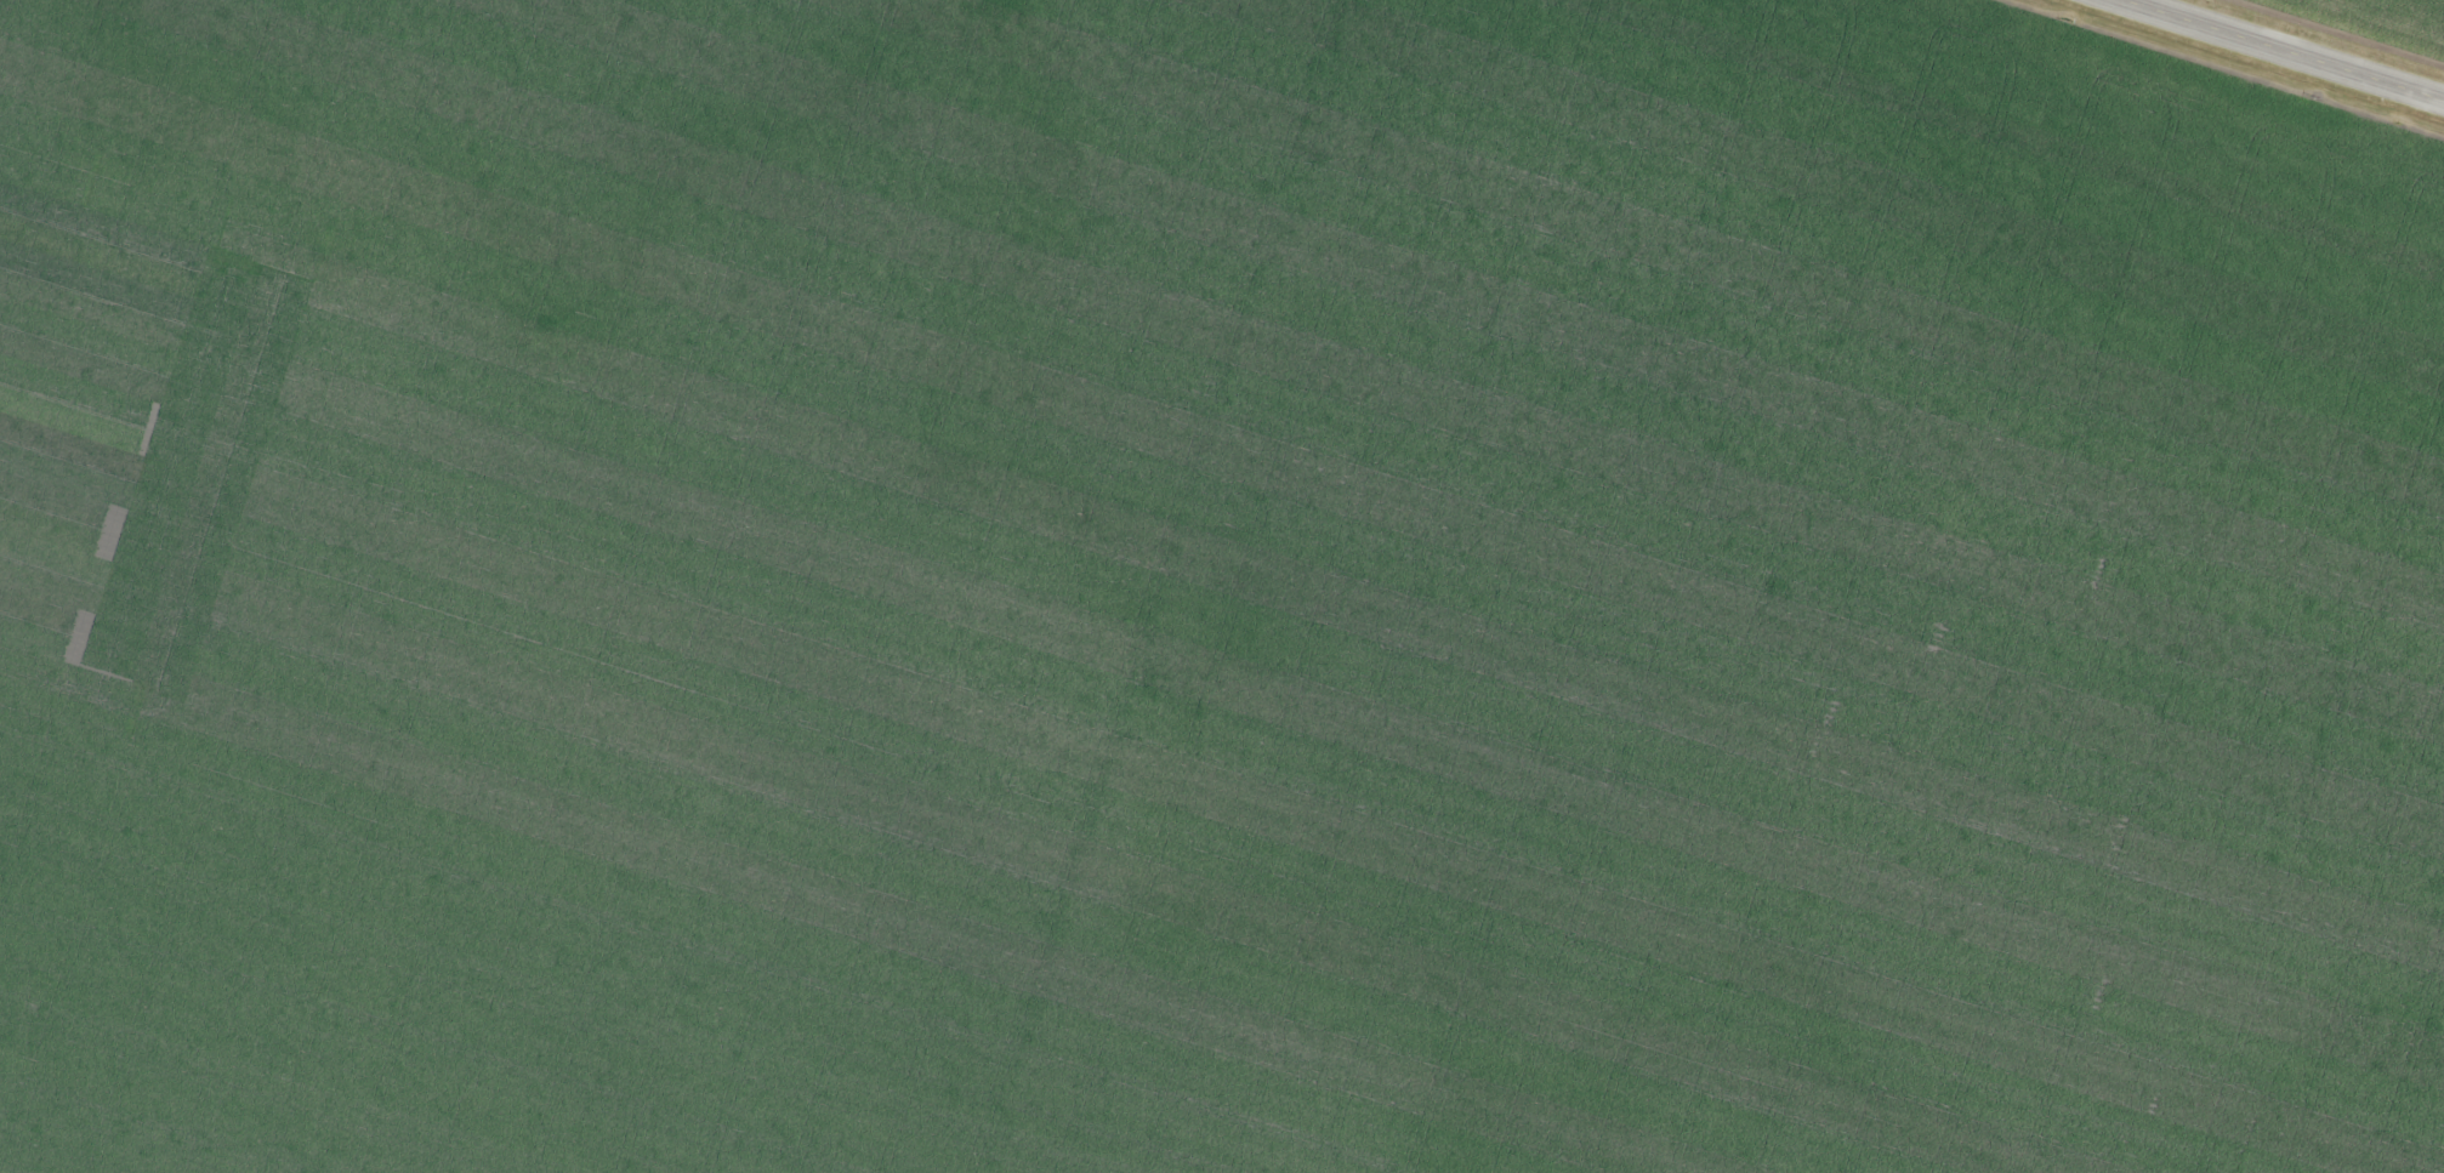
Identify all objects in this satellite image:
road: (2290, 47)

